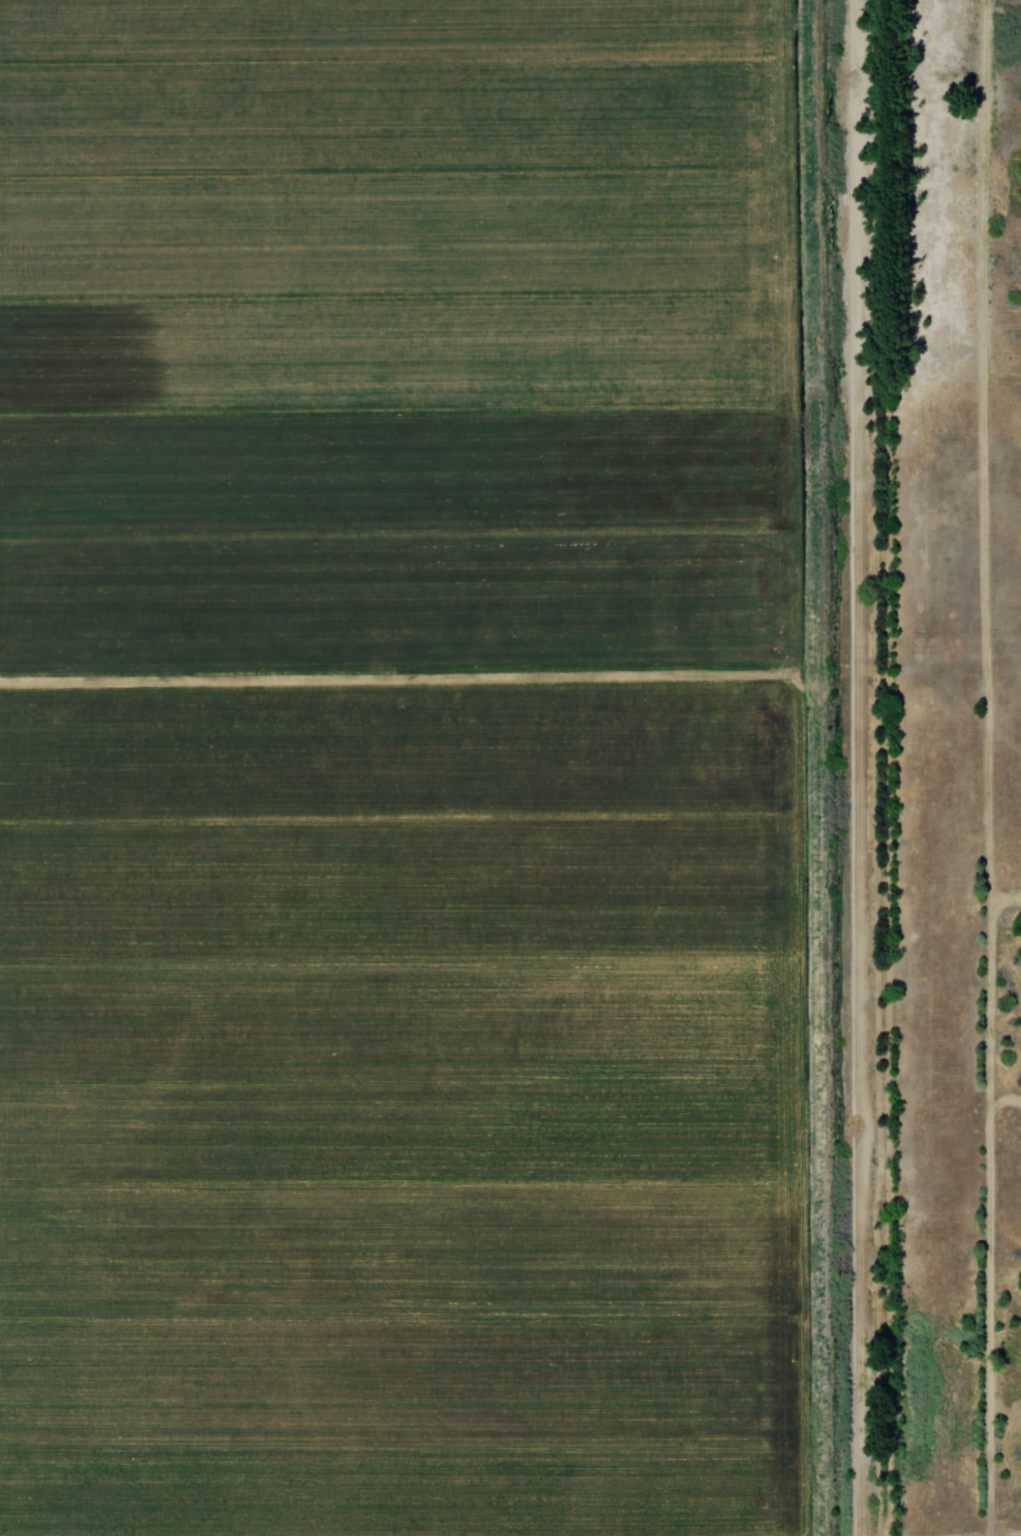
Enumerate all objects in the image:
road: (819, 767)

